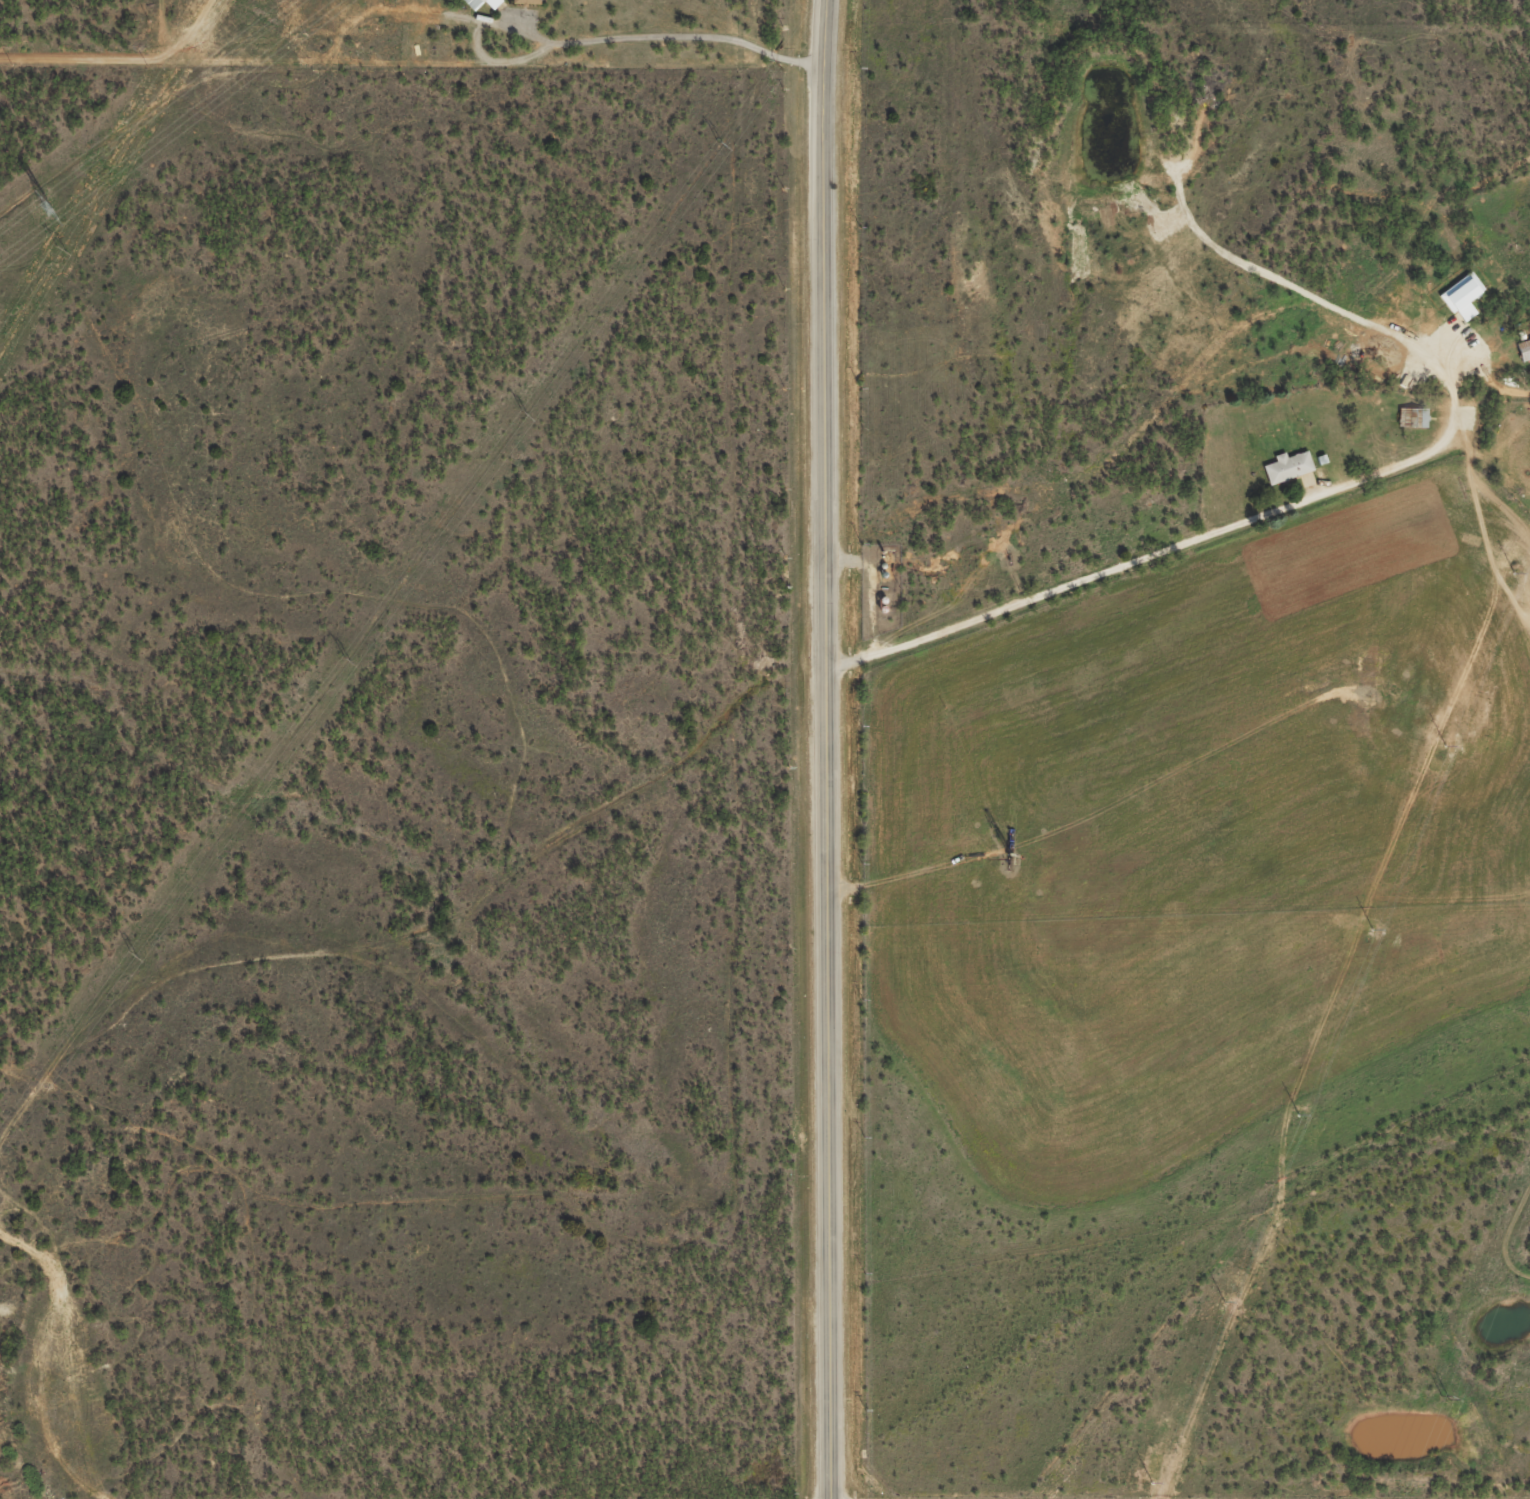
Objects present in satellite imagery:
building: (529, 6)
road: (417, 64)
power tower: (720, 144)
power tower: (51, 208)
power tower: (59, 248)
building: (1459, 307)
building: (1522, 358)
power tower: (525, 414)
building: (1284, 475)
road: (1188, 541)
power tower: (346, 659)
road: (825, 749)
power tower: (133, 955)
power tower: (1445, 1398)

